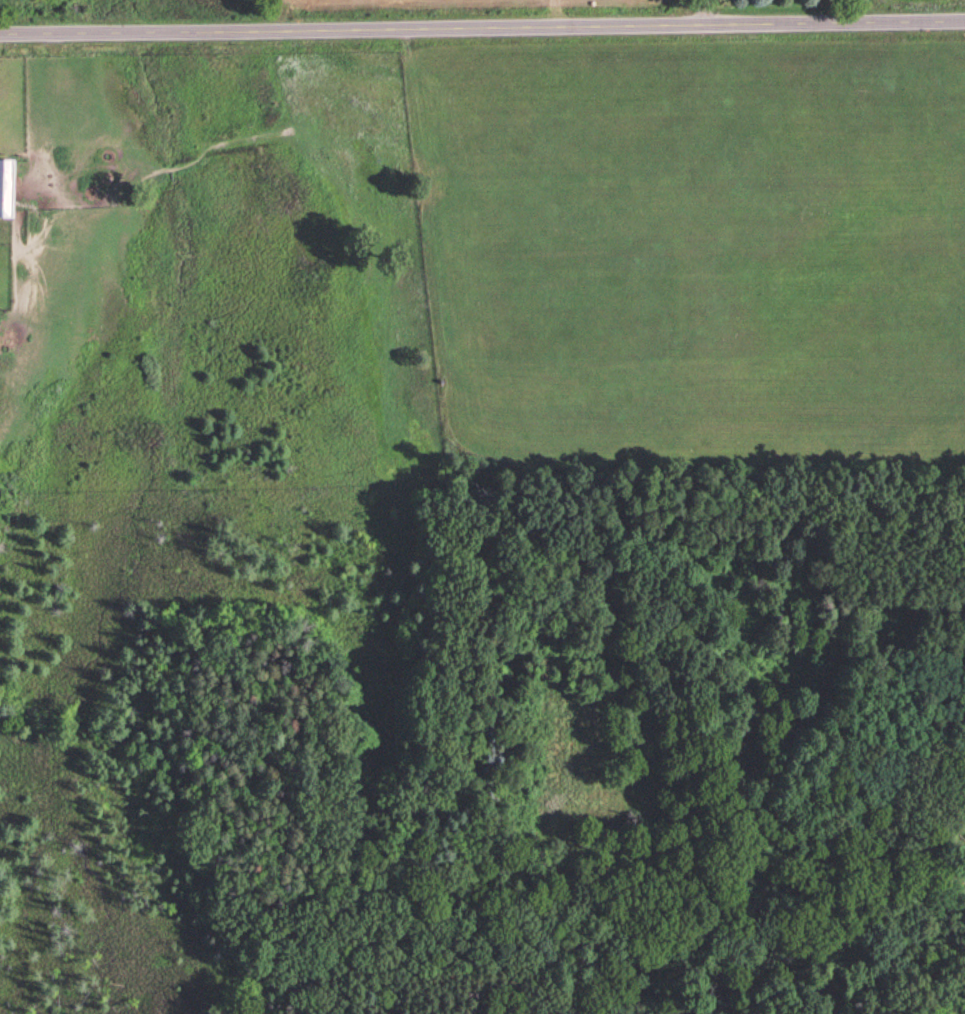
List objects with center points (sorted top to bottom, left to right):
crop: (449, 4)
road: (703, 14)
road: (482, 31)
building: (8, 187)

